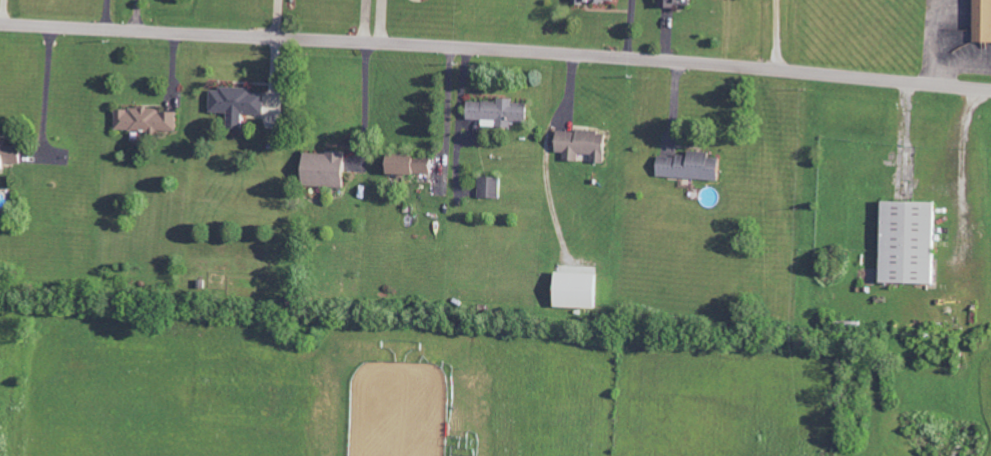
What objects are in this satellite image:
building: (600, 1)
building: (679, 3)
road: (277, 18)
building: (984, 21)
road: (776, 35)
road: (496, 48)
building: (239, 104)
building: (501, 112)
building: (148, 120)
building: (586, 145)
building: (11, 155)
building: (414, 165)
building: (694, 166)
building: (329, 169)
building: (491, 187)
building: (913, 242)
building: (582, 290)

